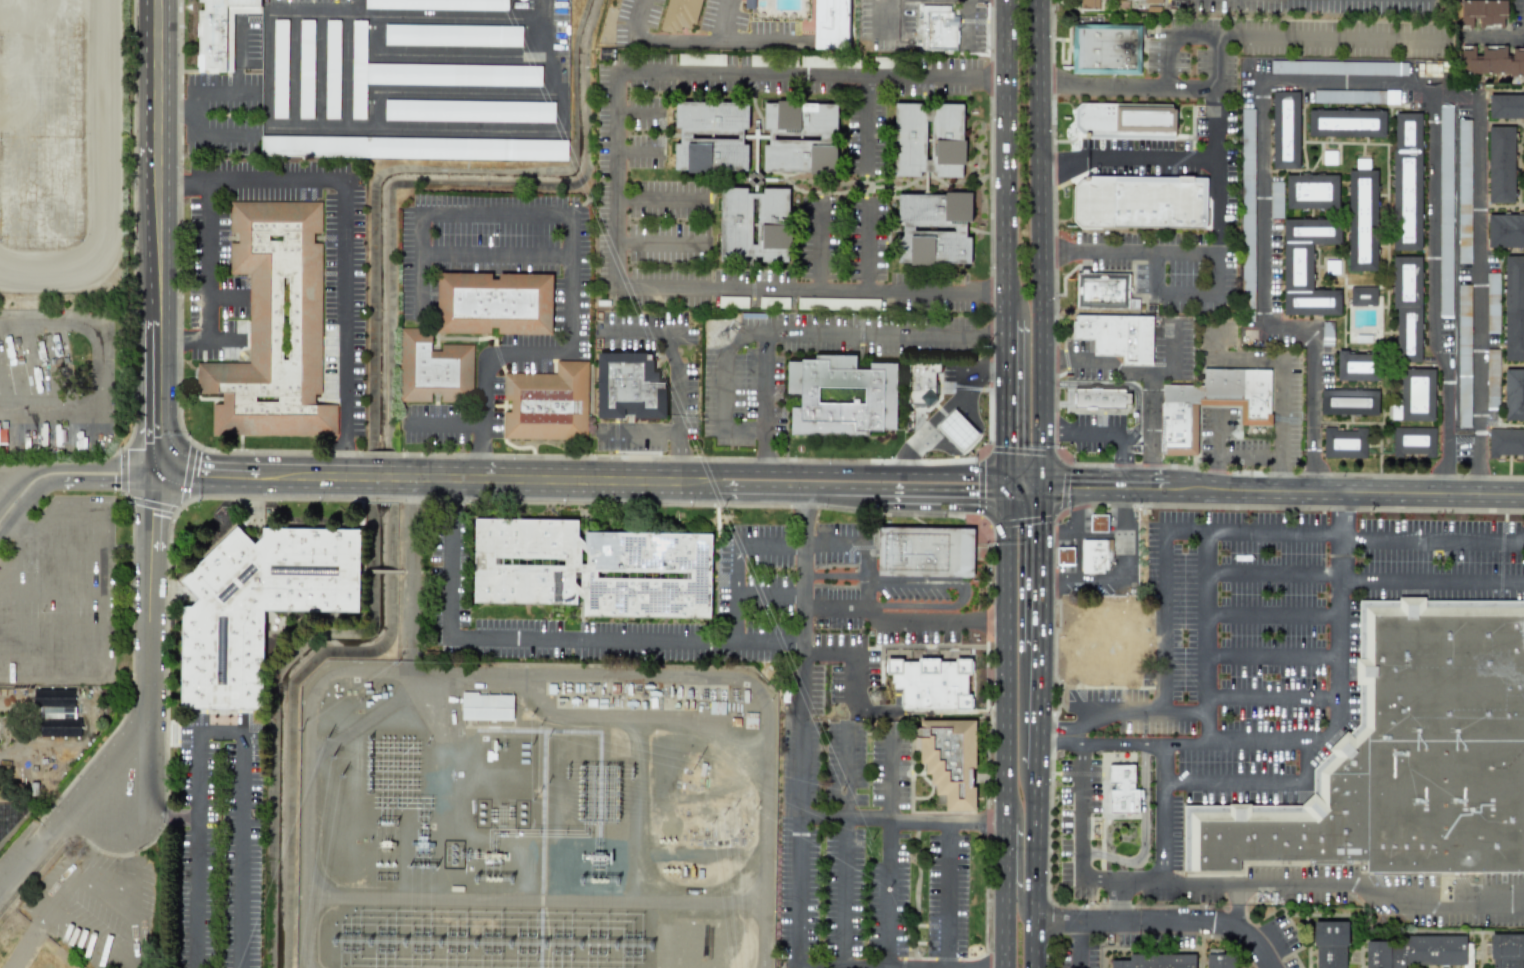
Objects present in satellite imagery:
building: (1152, 1)
building: (437, 4)
building: (1089, 4)
road: (357, 6)
road: (346, 11)
building: (1483, 12)
building: (685, 14)
road: (885, 15)
road: (723, 20)
road: (964, 21)
building: (832, 22)
building: (937, 28)
building: (219, 32)
building: (452, 35)
road: (1281, 37)
road: (1492, 37)
road: (706, 40)
building: (1108, 49)
road: (439, 52)
building: (1491, 61)
building: (1338, 67)
building: (279, 69)
building: (306, 69)
building: (332, 69)
building: (426, 73)
road: (1348, 81)
road: (1213, 82)
road: (1102, 87)
road: (444, 91)
road: (207, 92)
building: (1346, 96)
building: (1391, 97)
building: (1506, 107)
building: (469, 111)
road: (865, 122)
building: (1346, 123)
building: (1119, 129)
building: (1285, 130)
road: (485, 131)
road: (208, 134)
building: (711, 137)
building: (800, 137)
building: (928, 139)
building: (414, 148)
road: (635, 151)
road: (1164, 156)
road: (1005, 159)
building: (1500, 164)
road: (100, 178)
road: (615, 179)
building: (1407, 181)
building: (1463, 191)
building: (1311, 192)
road: (657, 198)
building: (1275, 199)
building: (1140, 204)
road: (1215, 207)
building: (1445, 211)
building: (1247, 214)
road: (1041, 216)
building: (1362, 220)
building: (754, 224)
road: (572, 229)
building: (933, 229)
building: (1505, 231)
road: (351, 232)
road: (158, 236)
road: (657, 242)
road: (820, 246)
road: (863, 246)
road: (1199, 256)
road: (492, 258)
building: (1307, 267)
road: (205, 282)
building: (1103, 292)
building: (1363, 296)
road: (1432, 297)
building: (732, 302)
building: (838, 303)
building: (1492, 303)
building: (493, 304)
building: (1407, 307)
building: (1514, 307)
building: (274, 327)
road: (817, 329)
building: (1117, 336)
power tower: (715, 338)
building: (1326, 338)
building: (1463, 356)
road: (94, 364)
building: (1358, 366)
building: (434, 369)
road: (1129, 376)
building: (1491, 379)
road: (1279, 382)
building: (920, 383)
road: (1118, 384)
building: (629, 386)
road: (720, 387)
theme park: (59, 392)
building: (1417, 394)
building: (1514, 394)
building: (841, 396)
building: (1101, 397)
road: (953, 399)
road: (1008, 401)
building: (1349, 402)
building: (545, 404)
building: (1211, 405)
road: (675, 417)
road: (446, 422)
building: (956, 430)
road: (1151, 432)
building: (2, 436)
building: (1413, 441)
road: (1105, 443)
building: (1344, 443)
building: (1505, 443)
road: (479, 451)
road: (1218, 452)
road: (767, 455)
road: (674, 457)
road: (1249, 458)
road: (1044, 459)
road: (904, 465)
road: (71, 472)
traffic signals: (157, 472)
road: (19, 475)
road: (583, 480)
traffic signals: (1010, 484)
road: (1027, 484)
traffic signals: (1044, 485)
road: (1059, 485)
road: (1299, 491)
road: (804, 514)
road: (1342, 514)
building: (1098, 522)
road: (5, 526)
road: (1123, 531)
road: (1077, 532)
road: (21, 534)
road: (1345, 536)
road: (868, 546)
road: (64, 549)
building: (924, 552)
building: (1095, 554)
road: (1205, 555)
building: (1065, 556)
road: (17, 557)
road: (1042, 567)
building: (592, 569)
road: (733, 571)
road: (407, 572)
road: (835, 575)
road: (1082, 578)
road: (1363, 580)
road: (51, 588)
road: (959, 593)
parking lot: (60, 596)
road: (101, 599)
building: (257, 606)
road: (1272, 613)
road: (904, 616)
road: (1165, 625)
road: (1339, 626)
road: (50, 638)
road: (511, 638)
road: (744, 640)
road: (1008, 653)
road: (851, 655)
road: (1271, 655)
road: (1203, 658)
building: (930, 683)
power tower: (877, 696)
road: (1270, 697)
building: (487, 707)
road: (1040, 709)
building: (56, 712)
road: (1141, 713)
road: (147, 718)
road: (1061, 729)
road: (1241, 740)
road: (1102, 742)
power tower: (371, 751)
building: (1405, 753)
road: (798, 756)
building: (949, 760)
road: (1165, 763)
power tower: (371, 768)
power tower: (567, 774)
power tower: (631, 775)
power tower: (575, 776)
power tower: (617, 777)
road: (238, 785)
road: (1224, 785)
power tower: (370, 786)
power tower: (575, 790)
power tower: (616, 790)
building: (1122, 790)
power tower: (575, 803)
power tower: (617, 803)
road: (157, 809)
road: (820, 815)
power tower: (575, 816)
power substation: (533, 817)
power tower: (616, 817)
road: (866, 819)
road: (948, 821)
road: (1143, 836)
road: (843, 848)
road: (888, 852)
road: (42, 862)
road: (1008, 862)
road: (1037, 867)
road: (1229, 883)
road: (60, 892)
road: (193, 893)
road: (946, 894)
road: (1119, 902)
road: (1235, 904)
road: (131, 908)
road: (1204, 921)
road: (1077, 922)
road: (1007, 934)
building: (1328, 943)
road: (1078, 945)
building: (1419, 950)
building: (1506, 950)
building: (1221, 958)
building: (1156, 961)

